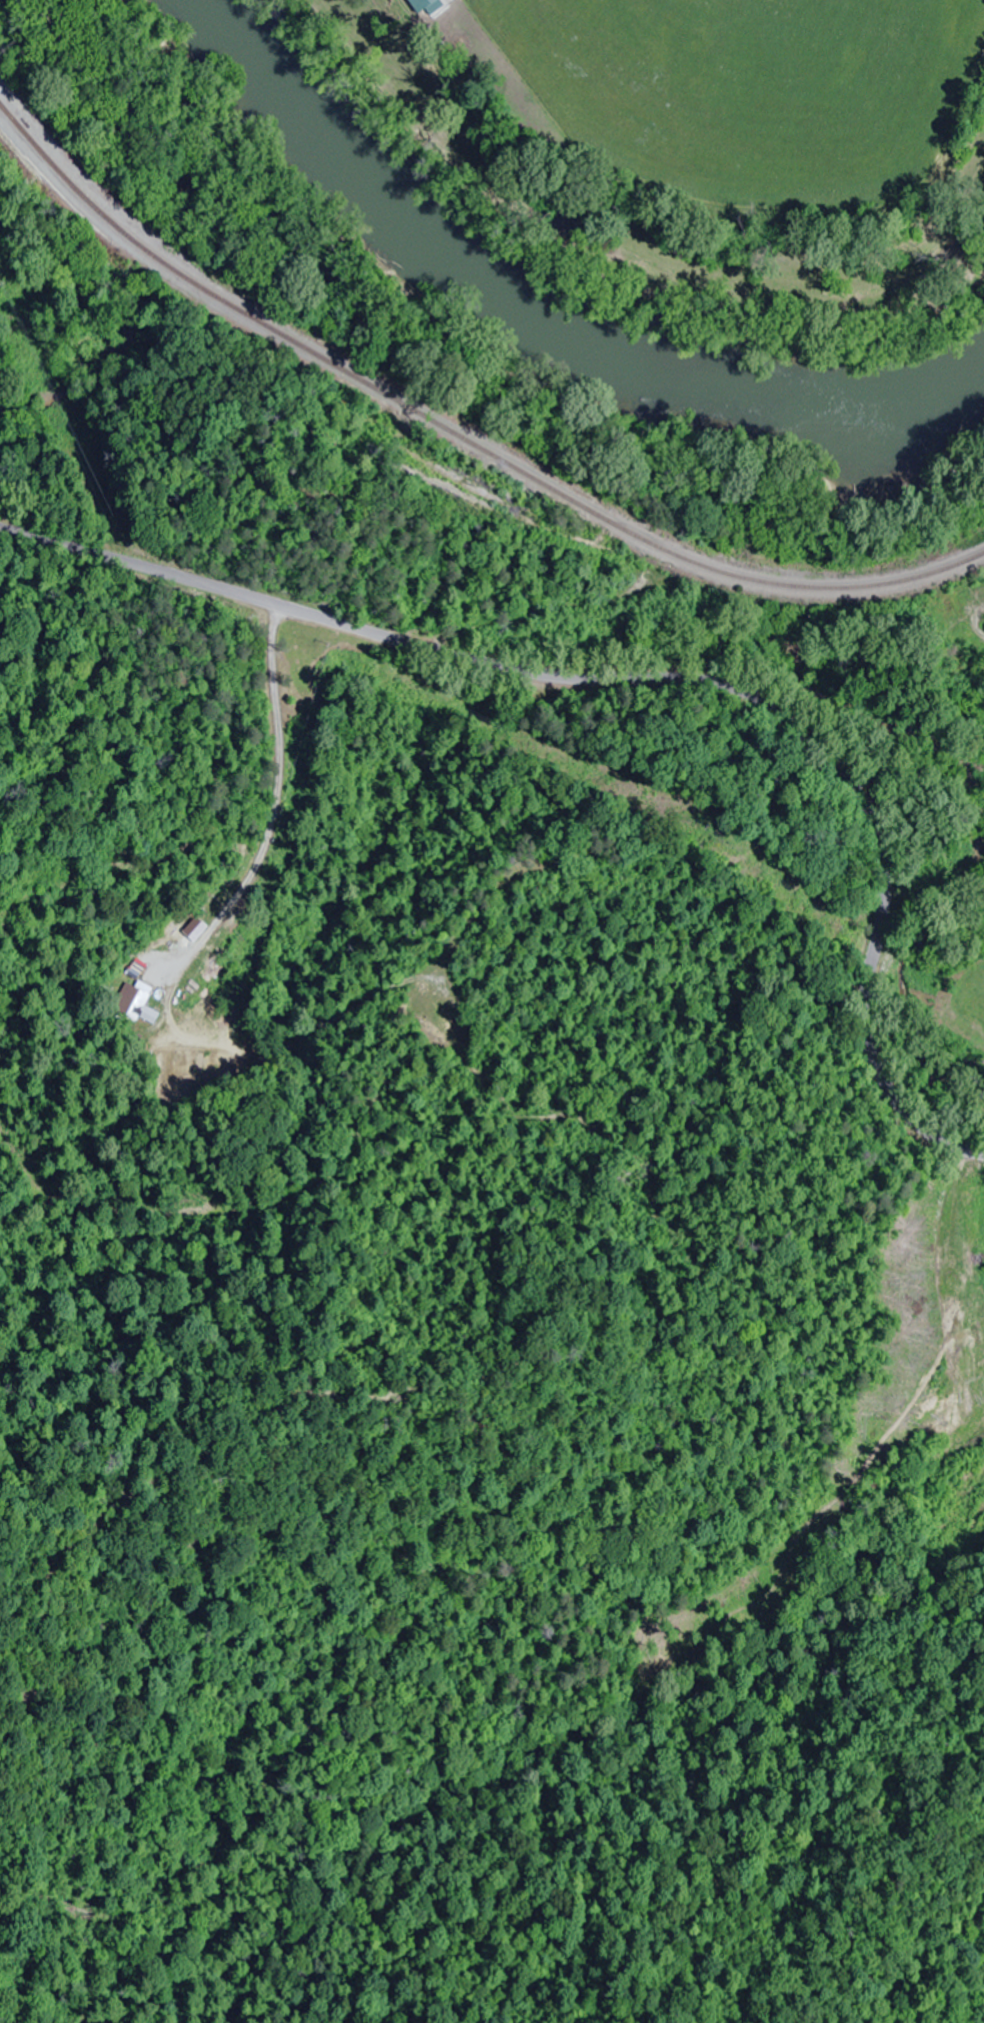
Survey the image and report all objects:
building: (417, 7)
river: (564, 328)
railway: (457, 434)
road: (650, 677)
road: (196, 735)
building: (136, 1003)

